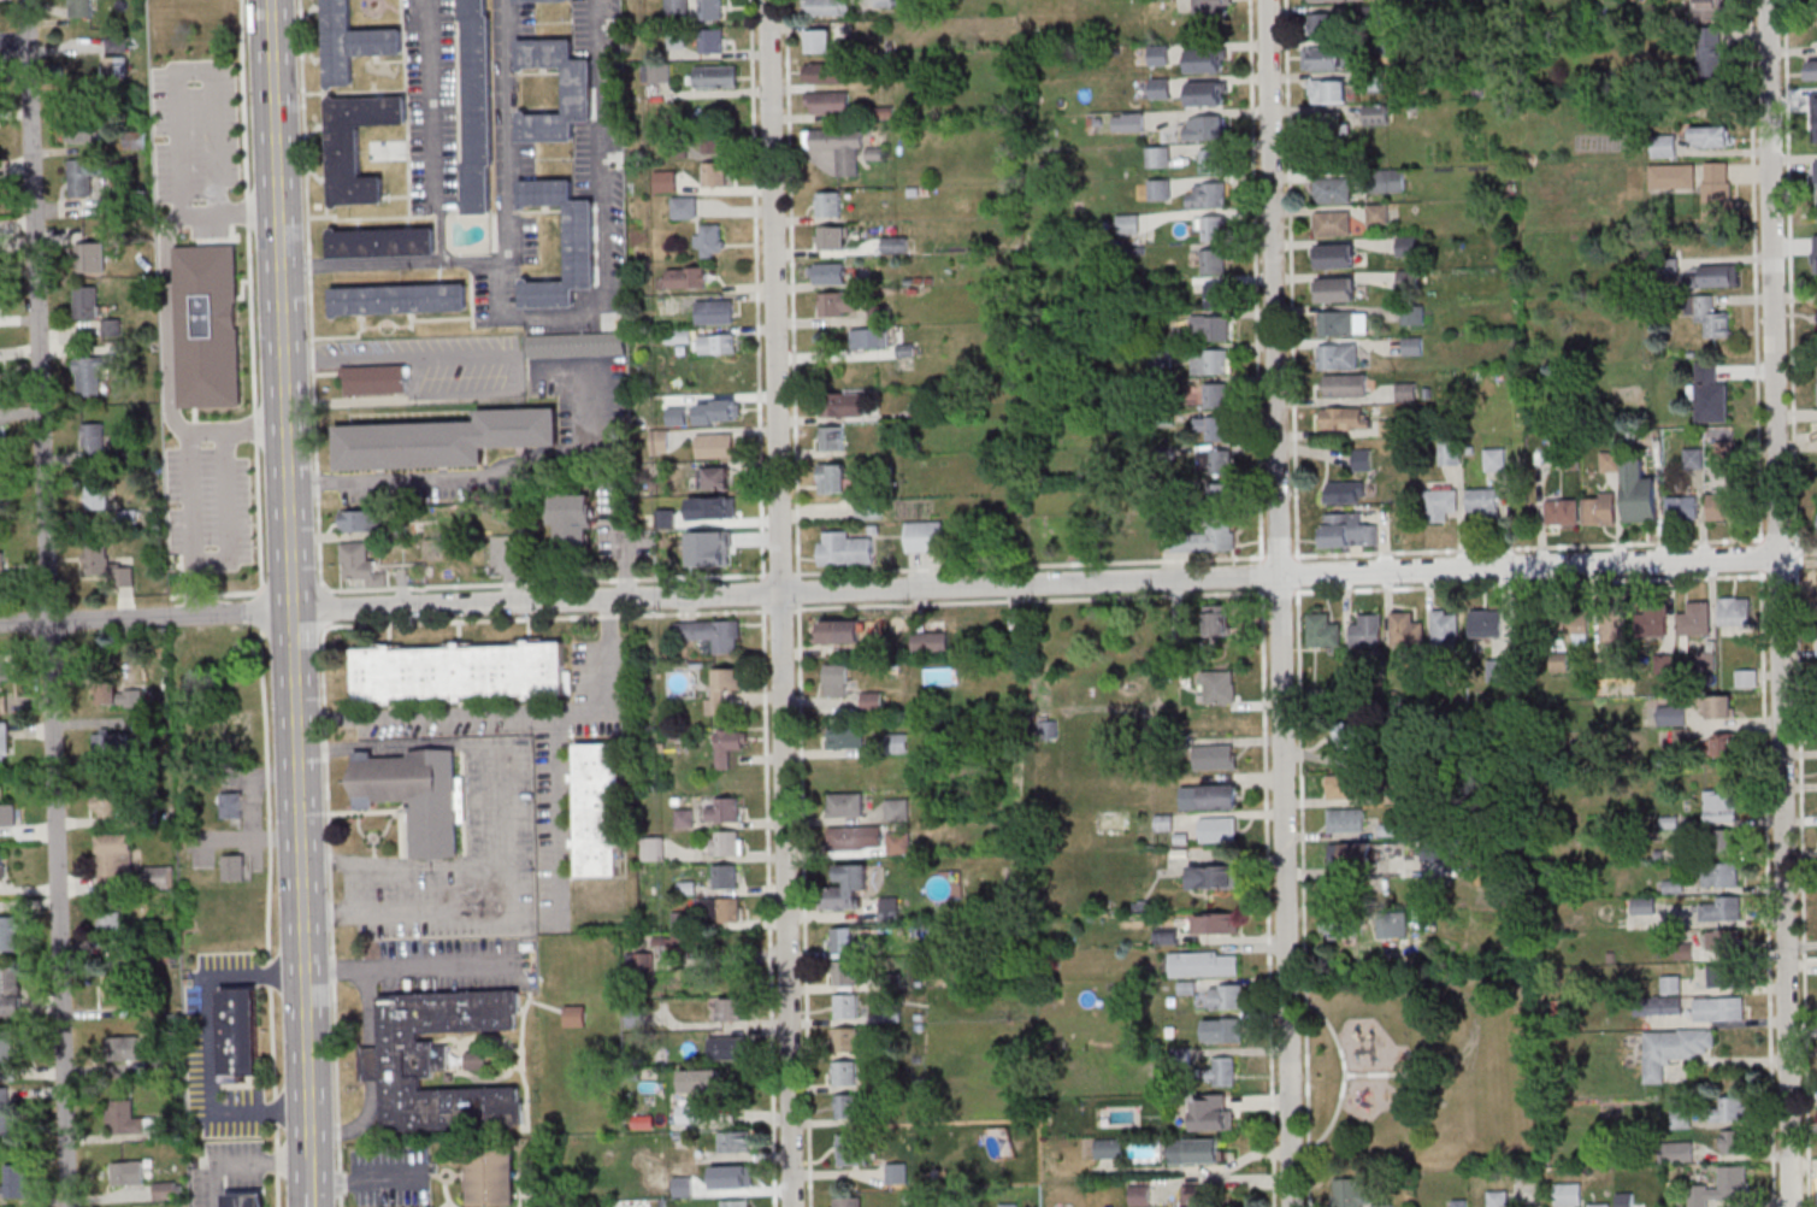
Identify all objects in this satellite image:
building: (533, 0)
building: (1317, 0)
building: (676, 6)
building: (81, 7)
building: (826, 7)
building: (709, 8)
building: (1213, 8)
building: (1710, 10)
building: (1322, 22)
building: (1815, 24)
building: (710, 40)
building: (819, 40)
building: (353, 42)
building: (118, 43)
building: (1711, 49)
building: (1158, 54)
building: (1321, 58)
building: (1205, 60)
building: (114, 69)
building: (1810, 69)
building: (826, 72)
building: (657, 73)
building: (715, 76)
building: (1369, 80)
building: (1160, 88)
building: (580, 89)
building: (1328, 90)
building: (1205, 93)
building: (827, 101)
road: (179, 104)
building: (479, 107)
building: (1376, 113)
building: (1127, 122)
building: (1327, 125)
building: (1210, 126)
building: (85, 129)
road: (435, 131)
building: (1813, 131)
building: (1711, 135)
building: (356, 143)
building: (714, 143)
building: (838, 146)
building: (1664, 146)
building: (1157, 155)
building: (1213, 160)
building: (1816, 171)
building: (714, 173)
building: (79, 177)
building: (1673, 177)
building: (1717, 179)
building: (665, 181)
building: (1388, 181)
building: (1160, 189)
building: (1332, 189)
building: (1215, 194)
building: (827, 204)
building: (683, 206)
building: (1378, 213)
building: (1332, 222)
building: (1128, 223)
building: (1215, 228)
building: (830, 237)
road: (607, 239)
building: (582, 240)
building: (709, 240)
building: (383, 241)
building: (895, 243)
road: (511, 245)
building: (1406, 246)
building: (1337, 255)
building: (90, 257)
building: (1214, 260)
road: (1754, 271)
building: (828, 273)
building: (1718, 275)
building: (684, 277)
road: (1255, 279)
road: (1291, 279)
building: (1408, 279)
road: (791, 288)
road: (755, 289)
building: (1337, 289)
building: (1216, 294)
building: (400, 298)
building: (84, 302)
building: (838, 304)
building: (713, 311)
building: (1412, 314)
building: (1712, 317)
road: (169, 319)
building: (1343, 323)
building: (1219, 326)
building: (110, 328)
building: (677, 335)
building: (869, 337)
building: (718, 342)
building: (576, 345)
building: (1412, 346)
road: (397, 354)
building: (1338, 355)
building: (1160, 357)
building: (1216, 360)
building: (88, 376)
building: (377, 377)
building: (1346, 384)
building: (1406, 390)
building: (1216, 394)
building: (1711, 394)
building: (849, 404)
building: (1345, 418)
building: (1217, 428)
building: (1, 435)
building: (444, 437)
building: (93, 438)
building: (831, 438)
building: (657, 441)
building: (714, 444)
building: (1451, 452)
building: (1693, 457)
building: (1362, 459)
building: (1494, 459)
building: (1221, 460)
building: (1610, 460)
road: (189, 472)
road: (484, 478)
building: (713, 478)
building: (831, 478)
building: (1639, 490)
building: (1345, 493)
building: (1220, 495)
building: (1, 496)
building: (98, 497)
building: (1482, 501)
building: (1441, 504)
building: (1682, 506)
building: (1723, 506)
building: (1599, 507)
building: (869, 511)
building: (1563, 511)
building: (359, 519)
building: (571, 519)
building: (1347, 531)
building: (924, 536)
road: (1804, 536)
road: (1780, 537)
road: (623, 540)
building: (1203, 540)
road: (1557, 544)
building: (843, 549)
building: (713, 554)
road: (1317, 554)
road: (1278, 555)
road: (1762, 555)
building: (359, 563)
road: (1028, 564)
building: (1, 565)
building: (106, 565)
road: (293, 566)
road: (1261, 572)
road: (779, 573)
road: (1297, 573)
road: (1772, 575)
road: (543, 582)
road: (889, 588)
road: (797, 590)
road: (762, 591)
road: (1279, 591)
road: (319, 602)
road: (781, 602)
road: (1281, 602)
road: (1780, 602)
road: (48, 603)
road: (1797, 603)
road: (780, 610)
building: (1734, 611)
road: (543, 617)
building: (1695, 619)
building: (1216, 622)
building: (1652, 622)
building: (1486, 624)
building: (1573, 626)
road: (290, 628)
building: (1614, 628)
building: (839, 630)
building: (1405, 630)
building: (1445, 630)
building: (1323, 631)
building: (1367, 631)
building: (712, 634)
building: (931, 642)
building: (5, 665)
building: (461, 671)
building: (1745, 678)
building: (836, 681)
building: (721, 687)
building: (1221, 687)
building: (114, 691)
building: (871, 701)
building: (4, 702)
building: (1718, 707)
road: (508, 712)
building: (1673, 717)
building: (845, 737)
building: (2, 738)
building: (1346, 740)
building: (1681, 740)
building: (110, 742)
building: (727, 744)
building: (1723, 746)
building: (1214, 756)
building: (1346, 788)
building: (415, 794)
road: (500, 796)
building: (1210, 796)
building: (844, 803)
building: (105, 805)
building: (230, 805)
building: (597, 808)
building: (897, 808)
building: (1721, 808)
building: (724, 809)
road: (560, 811)
building: (7, 813)
building: (1345, 820)
building: (1217, 829)
building: (856, 837)
building: (724, 842)
building: (899, 842)
building: (1721, 842)
building: (653, 847)
building: (1355, 852)
building: (113, 855)
building: (1, 862)
building: (232, 866)
building: (725, 876)
building: (1215, 876)
building: (1721, 876)
building: (157, 877)
building: (846, 887)
building: (1673, 887)
road: (1768, 888)
road: (1267, 895)
road: (1303, 895)
road: (768, 905)
road: (803, 905)
building: (1644, 906)
building: (720, 909)
building: (1721, 909)
road: (433, 911)
road: (266, 918)
building: (108, 922)
building: (1216, 923)
building: (1335, 926)
building: (8, 932)
building: (1167, 936)
building: (843, 941)
building: (1722, 942)
building: (1204, 962)
road: (406, 966)
building: (844, 973)
building: (114, 976)
building: (1718, 976)
building: (1670, 984)
building: (10, 990)
building: (1227, 996)
building: (1658, 1005)
building: (845, 1006)
building: (735, 1008)
building: (1718, 1009)
building: (574, 1015)
building: (1223, 1030)
building: (238, 1034)
building: (845, 1040)
road: (213, 1044)
building: (122, 1047)
building: (727, 1047)
building: (1673, 1049)
building: (6, 1058)
building: (474, 1059)
building: (397, 1061)
park: (1421, 1070)
building: (1223, 1071)
road: (373, 1073)
building: (844, 1073)
road: (1346, 1074)
road: (1378, 1074)
building: (701, 1079)
building: (846, 1105)
building: (1730, 1107)
building: (688, 1113)
building: (1213, 1113)
building: (7, 1118)
building: (125, 1118)
building: (735, 1140)
building: (1733, 1141)
building: (1109, 1148)
building: (854, 1149)
building: (1194, 1150)
building: (1681, 1150)
building: (683, 1160)
road: (242, 1164)
road: (311, 1170)
building: (128, 1172)
building: (896, 1173)
building: (491, 1176)
road: (368, 1179)
building: (12, 1180)
building: (1723, 1187)
building: (165, 1190)
building: (1351, 1193)
building: (1568, 1194)
building: (1192, 1195)
building: (1139, 1196)
building: (246, 1199)
building: (1497, 1199)
building: (1626, 1200)
building: (845, 1201)
building: (736, 1202)
building: (1459, 1202)
building: (1008, 1205)
building: (1599, 1205)

